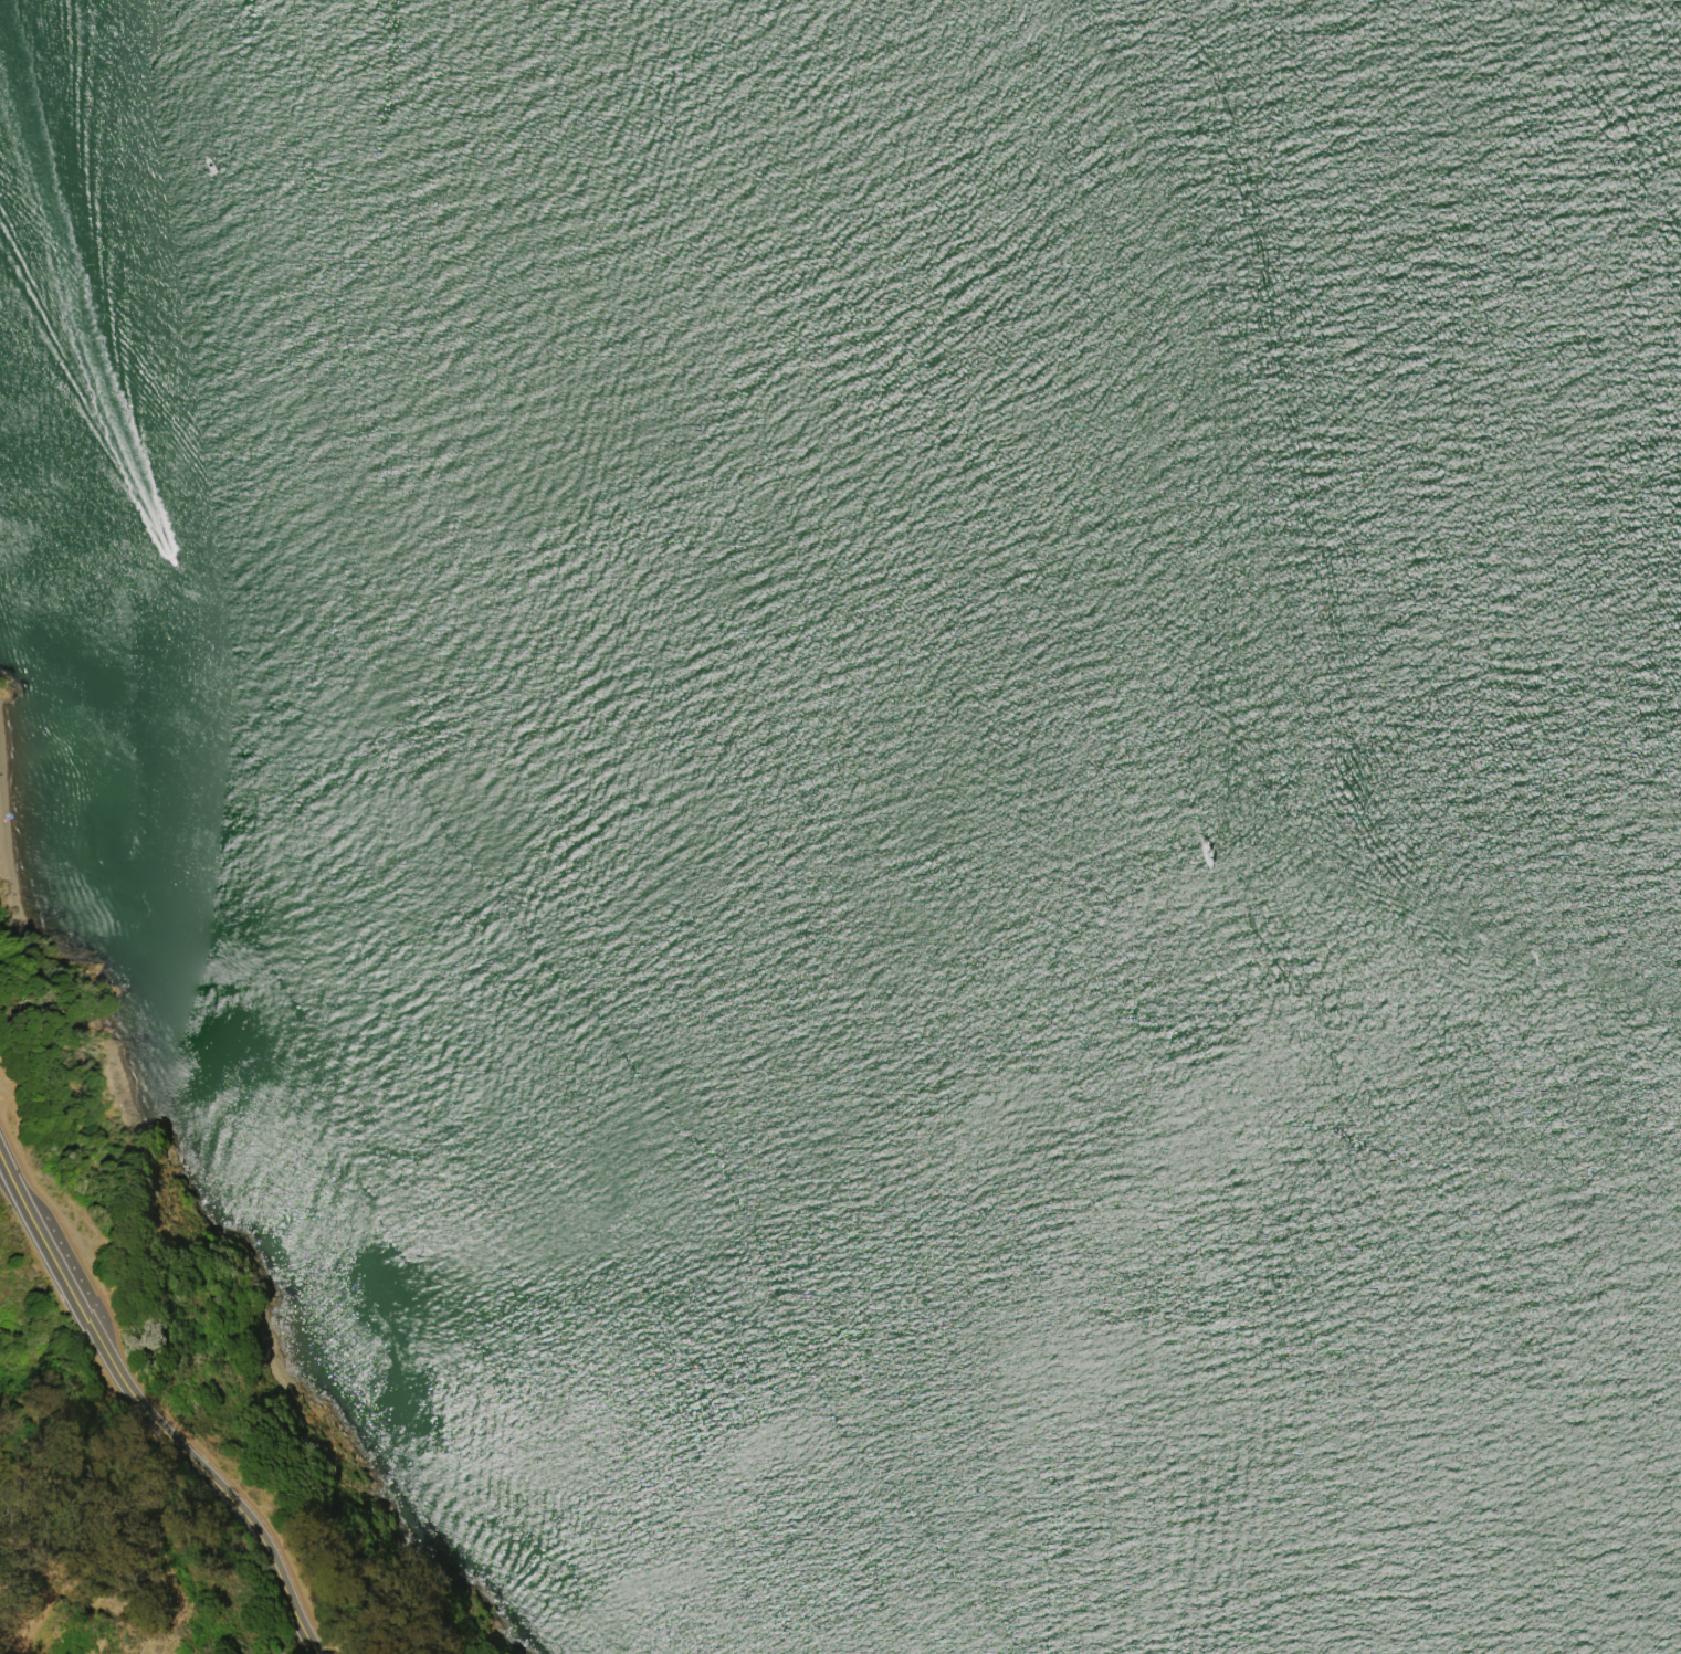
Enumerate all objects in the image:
road: (147, 1414)

